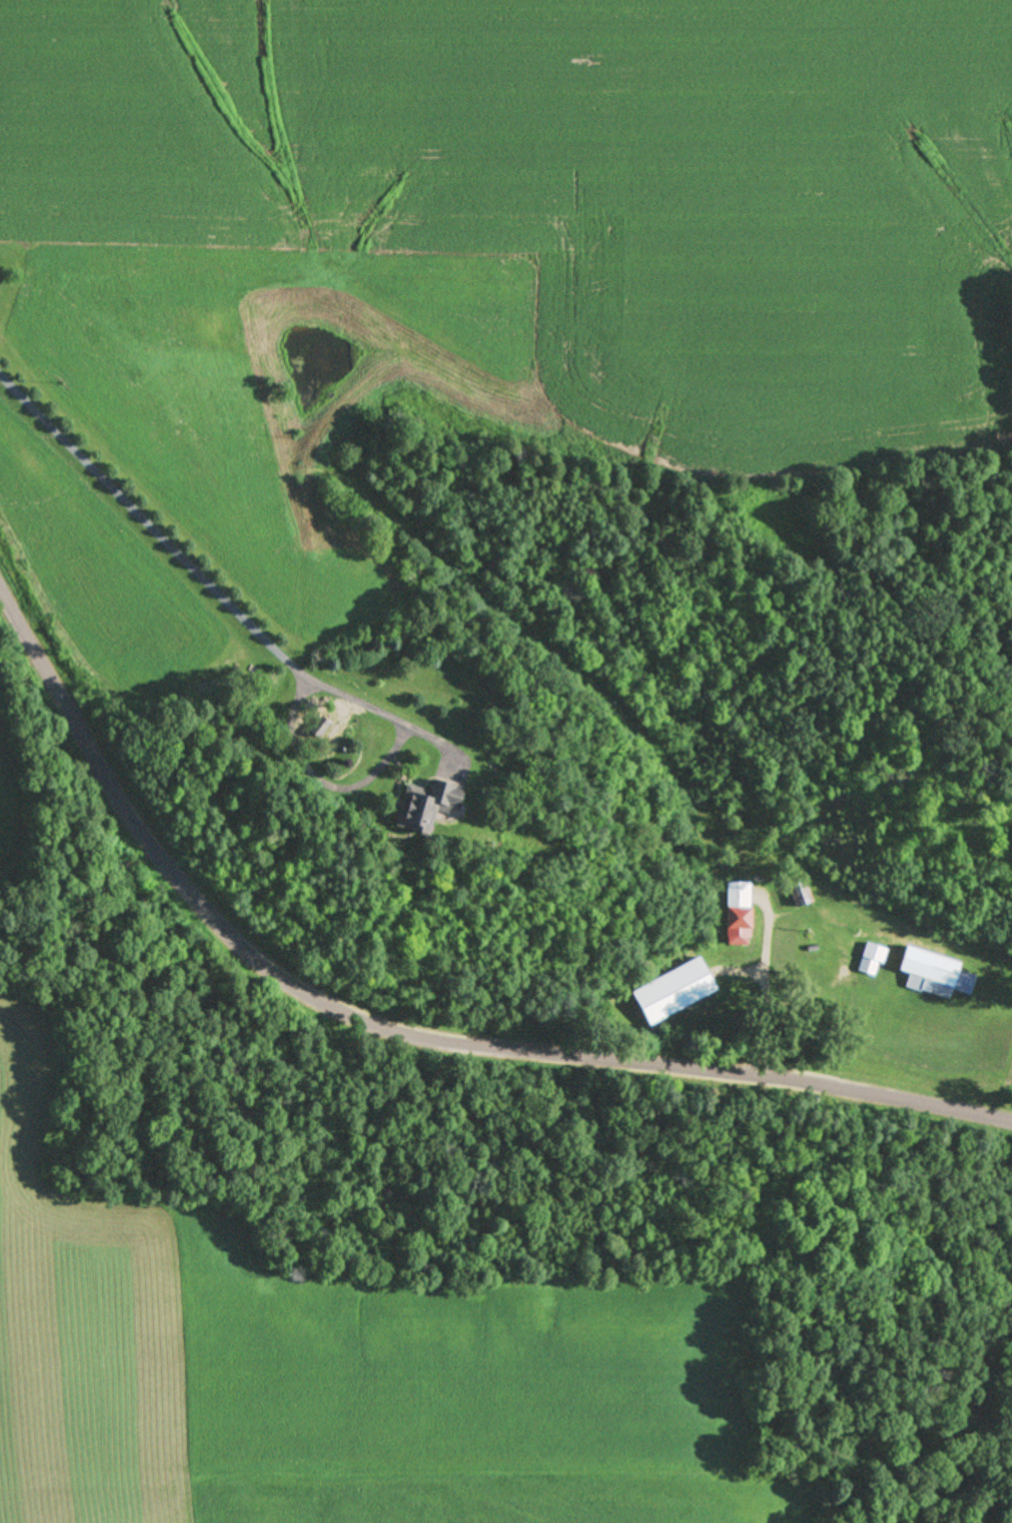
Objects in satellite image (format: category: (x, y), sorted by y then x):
road: (216, 592)
building: (421, 806)
building: (736, 913)
building: (909, 964)
building: (672, 991)
road: (767, 992)
road: (402, 1019)

